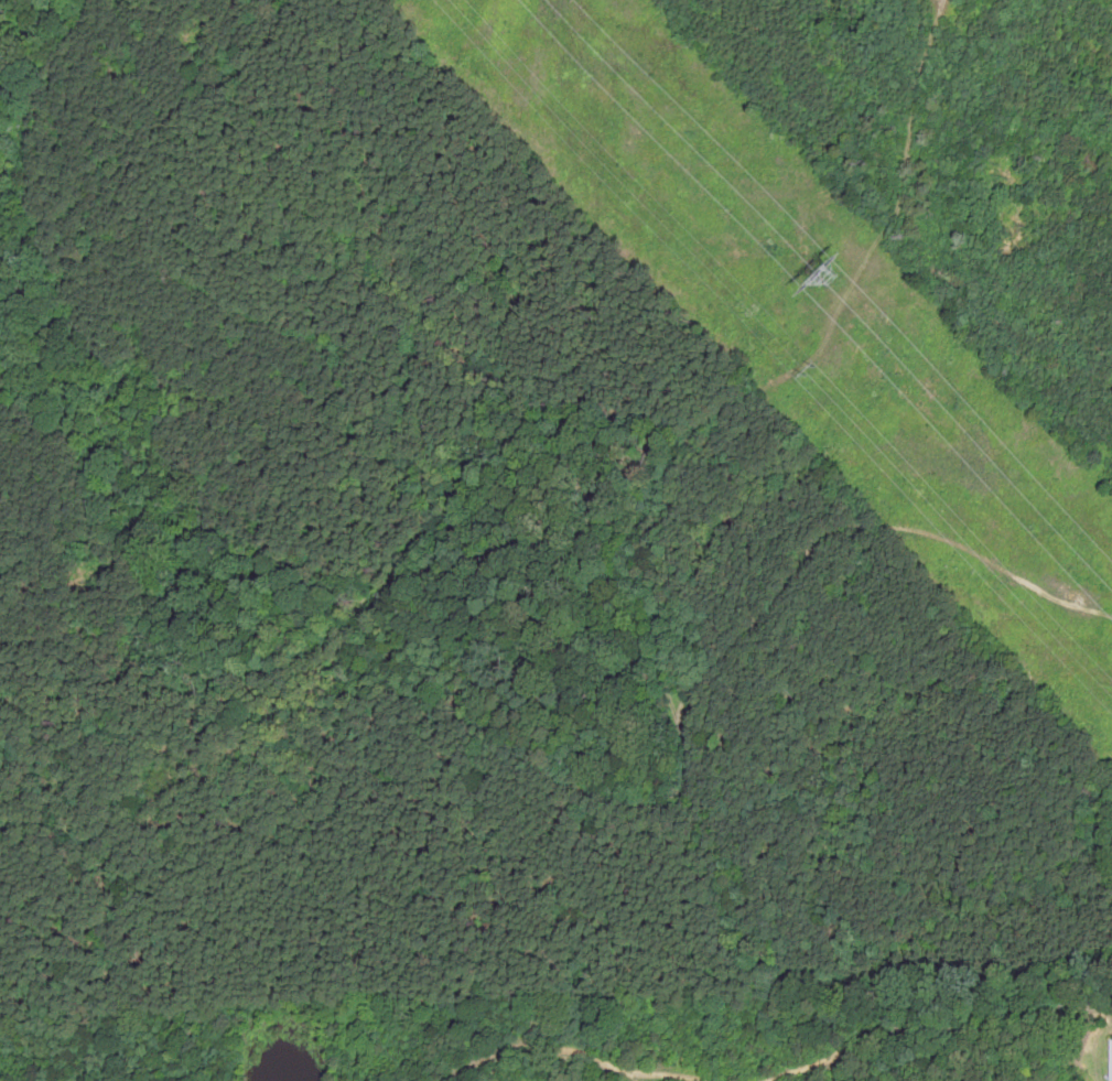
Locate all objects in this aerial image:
power tower: (803, 273)
power tower: (811, 368)
building: (1110, 1058)

